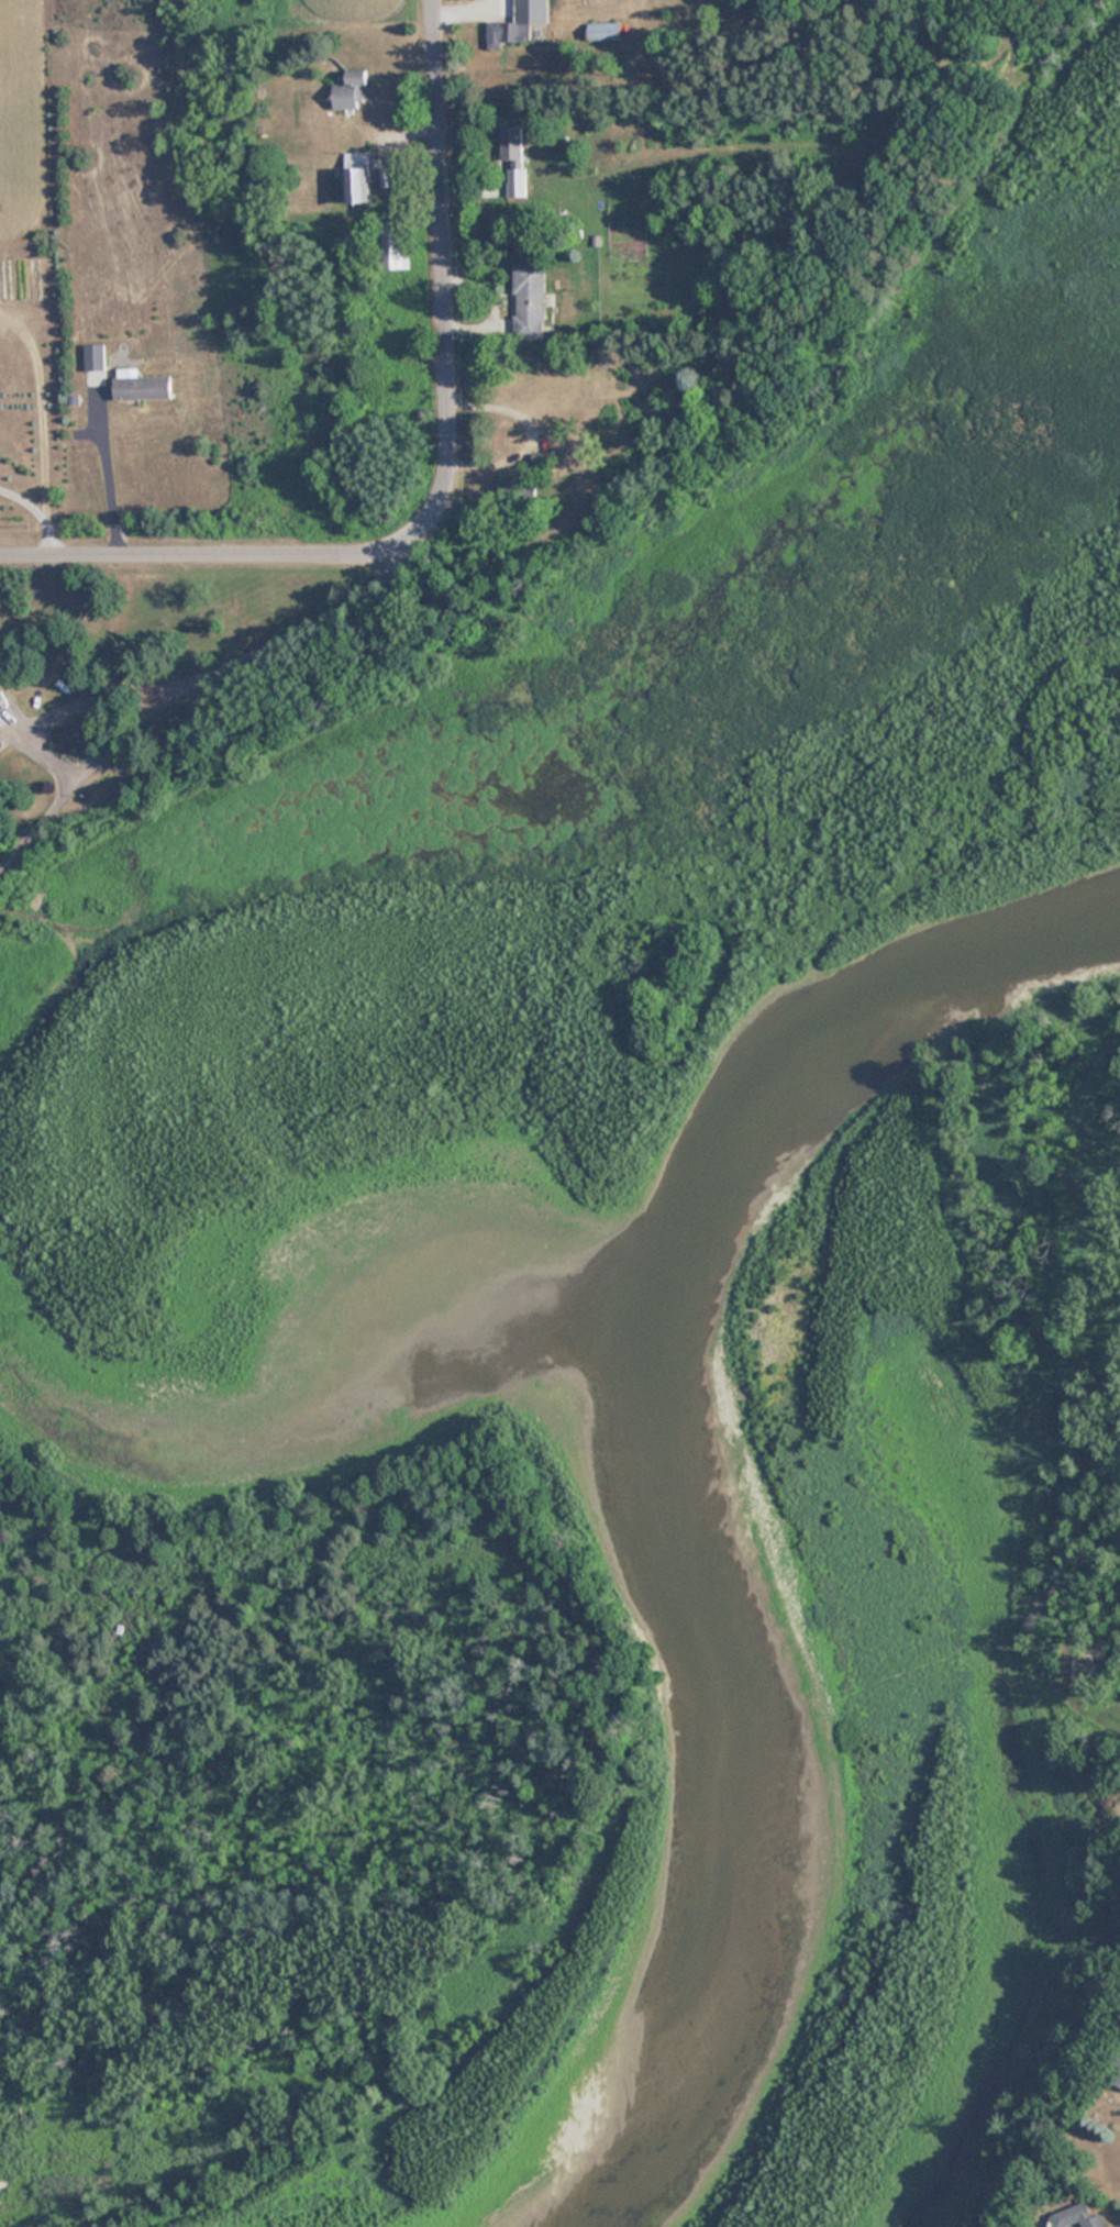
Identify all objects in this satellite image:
building: (512, 29)
building: (605, 31)
building: (354, 91)
building: (513, 160)
building: (358, 179)
building: (395, 245)
building: (529, 300)
road: (447, 302)
building: (95, 357)
building: (142, 385)
road: (100, 470)
road: (34, 516)
road: (181, 556)
road: (175, 672)
river: (811, 1519)
building: (1118, 2081)
building: (1078, 2218)

